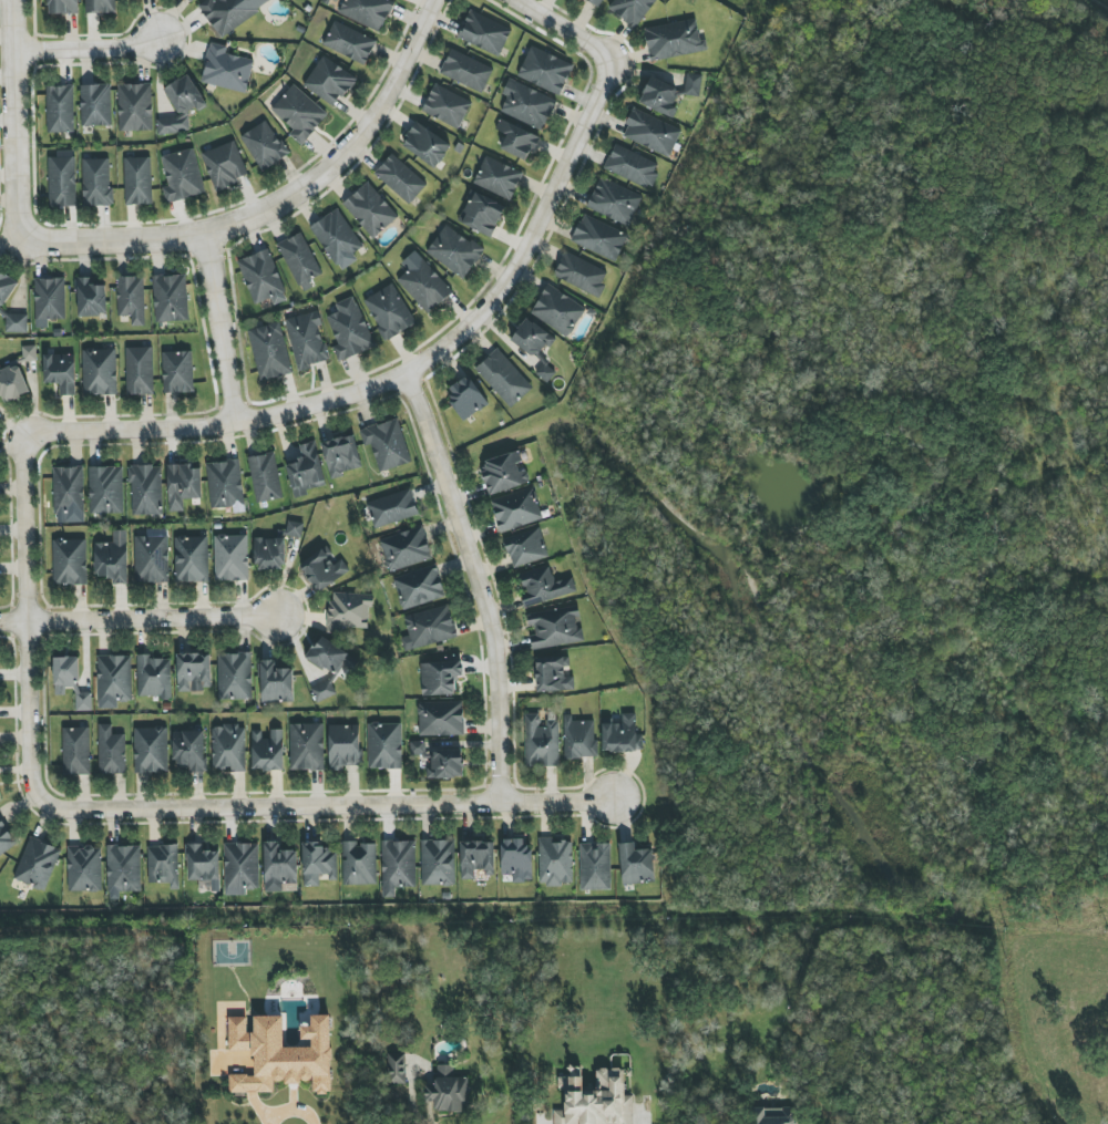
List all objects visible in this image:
building: (595, 2)
building: (100, 6)
building: (63, 7)
building: (630, 10)
building: (229, 12)
building: (367, 12)
road: (561, 31)
building: (484, 33)
building: (674, 40)
building: (349, 43)
road: (84, 49)
building: (227, 70)
building: (545, 70)
building: (466, 71)
building: (329, 81)
building: (693, 84)
building: (659, 97)
building: (527, 104)
building: (95, 105)
building: (181, 105)
building: (447, 106)
building: (135, 107)
building: (60, 110)
building: (299, 114)
road: (13, 118)
building: (652, 133)
building: (517, 141)
building: (264, 145)
building: (427, 145)
building: (225, 165)
building: (632, 166)
building: (182, 176)
building: (497, 178)
building: (62, 179)
building: (400, 179)
building: (137, 182)
building: (96, 183)
building: (615, 202)
road: (278, 203)
building: (370, 210)
building: (482, 215)
building: (599, 238)
building: (337, 239)
building: (454, 251)
building: (299, 261)
building: (581, 274)
building: (263, 278)
building: (424, 286)
building: (6, 289)
building: (91, 298)
building: (171, 298)
building: (50, 299)
building: (132, 299)
building: (557, 310)
building: (389, 312)
building: (17, 323)
road: (217, 329)
building: (349, 330)
building: (533, 339)
building: (307, 340)
building: (269, 351)
building: (29, 352)
building: (140, 371)
building: (61, 372)
building: (100, 372)
building: (177, 372)
building: (544, 372)
road: (402, 377)
building: (504, 378)
building: (12, 384)
building: (466, 398)
building: (387, 444)
building: (341, 455)
building: (306, 471)
building: (504, 473)
building: (265, 477)
building: (225, 484)
building: (183, 486)
building: (69, 489)
building: (105, 489)
building: (145, 491)
building: (392, 508)
building: (516, 511)
building: (275, 548)
building: (406, 549)
building: (526, 549)
building: (113, 558)
building: (230, 558)
building: (151, 559)
building: (192, 559)
building: (70, 563)
building: (324, 569)
road: (473, 584)
building: (543, 586)
building: (419, 588)
building: (350, 611)
road: (24, 616)
road: (138, 618)
building: (555, 627)
building: (429, 628)
building: (329, 666)
building: (194, 672)
building: (553, 674)
building: (235, 677)
building: (153, 678)
building: (440, 678)
building: (70, 681)
building: (114, 681)
building: (277, 683)
building: (441, 719)
building: (622, 735)
building: (579, 738)
building: (541, 741)
building: (306, 746)
building: (345, 746)
building: (384, 746)
building: (229, 747)
building: (151, 750)
building: (76, 751)
building: (191, 751)
building: (268, 751)
building: (112, 752)
building: (441, 761)
building: (0, 798)
road: (325, 803)
building: (6, 839)
building: (517, 858)
building: (478, 859)
building: (555, 862)
building: (438, 863)
building: (37, 864)
building: (359, 864)
building: (163, 865)
building: (319, 865)
building: (636, 865)
building: (398, 866)
building: (595, 866)
building: (204, 867)
building: (84, 868)
building: (240, 868)
building: (280, 868)
building: (123, 870)
building: (284, 1054)
building: (397, 1072)
building: (449, 1091)
road: (408, 1100)
building: (596, 1101)
road: (290, 1114)
building: (773, 1115)

